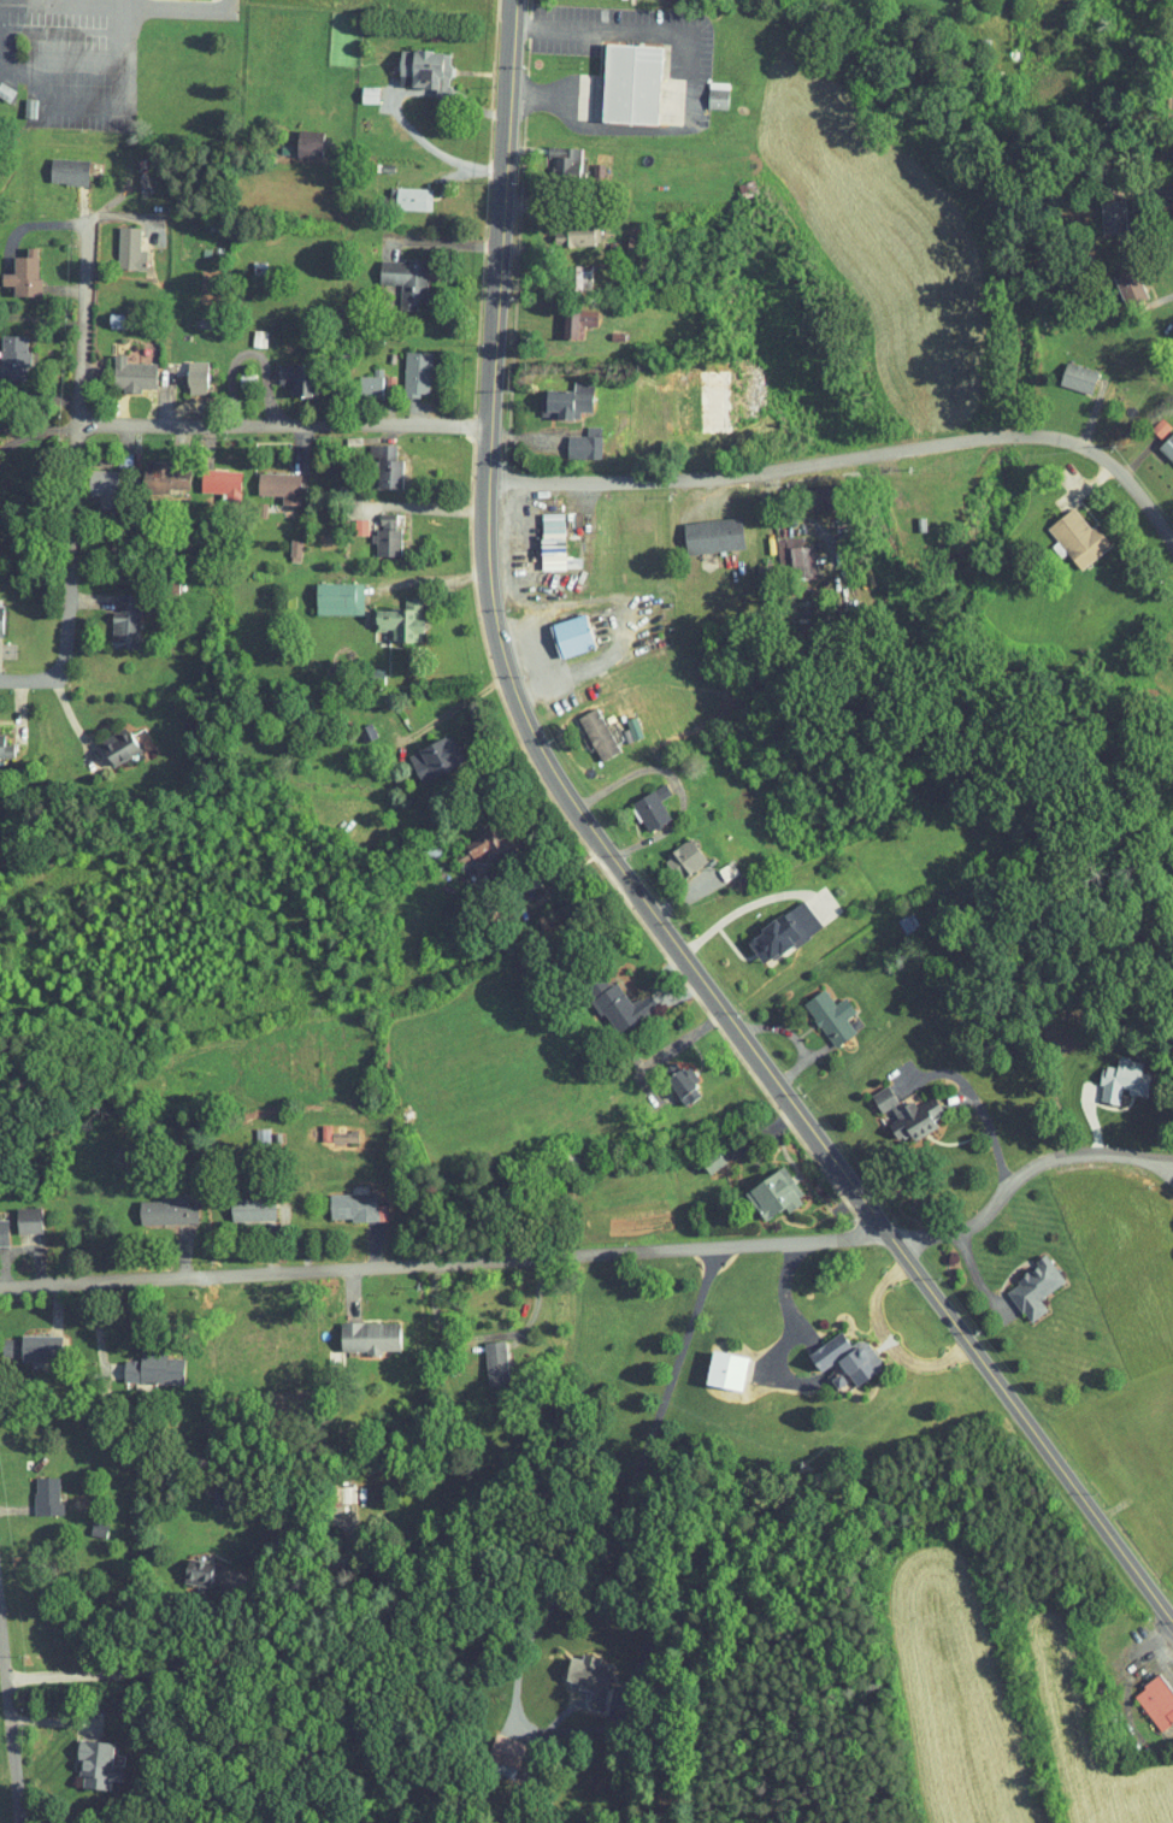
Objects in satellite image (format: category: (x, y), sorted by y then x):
road: (110, 1)
road: (141, 5)
building: (411, 61)
building: (617, 76)
building: (355, 87)
building: (703, 88)
building: (295, 136)
building: (553, 153)
building: (54, 164)
building: (396, 191)
building: (1096, 211)
building: (562, 228)
building: (116, 242)
building: (12, 266)
building: (568, 270)
building: (393, 272)
building: (1116, 279)
building: (564, 314)
building: (1166, 348)
building: (6, 350)
building: (118, 367)
building: (402, 367)
building: (182, 370)
building: (1065, 371)
building: (284, 374)
building: (356, 378)
building: (556, 393)
building: (1145, 420)
road: (273, 429)
building: (571, 437)
building: (1161, 442)
road: (847, 458)
building: (372, 459)
building: (151, 471)
building: (208, 477)
road: (64, 479)
building: (266, 479)
building: (89, 480)
building: (700, 529)
building: (372, 530)
building: (1065, 531)
building: (312, 535)
building: (541, 536)
building: (281, 543)
building: (780, 551)
building: (325, 591)
building: (388, 613)
building: (112, 616)
building: (558, 629)
building: (618, 722)
building: (584, 727)
building: (105, 739)
building: (419, 754)
road: (544, 774)
building: (638, 801)
building: (468, 844)
building: (671, 852)
building: (770, 927)
building: (606, 999)
building: (815, 1005)
building: (1109, 1072)
building: (670, 1076)
road: (977, 1104)
building: (895, 1105)
building: (701, 1150)
road: (1016, 1174)
building: (761, 1186)
building: (338, 1198)
building: (238, 1200)
building: (153, 1202)
building: (14, 1213)
road: (438, 1261)
building: (1021, 1280)
building: (355, 1328)
building: (26, 1341)
building: (833, 1349)
building: (482, 1355)
building: (140, 1362)
building: (713, 1362)
road: (1033, 1452)
building: (31, 1488)
building: (235, 1493)
road: (253, 1514)
building: (84, 1521)
road: (225, 1529)
road: (1116, 1563)
building: (184, 1564)
building: (216, 1570)
road: (241, 1585)
road: (637, 1640)
building: (578, 1672)
building: (1145, 1694)
road: (10, 1729)
building: (495, 1744)
building: (83, 1757)

